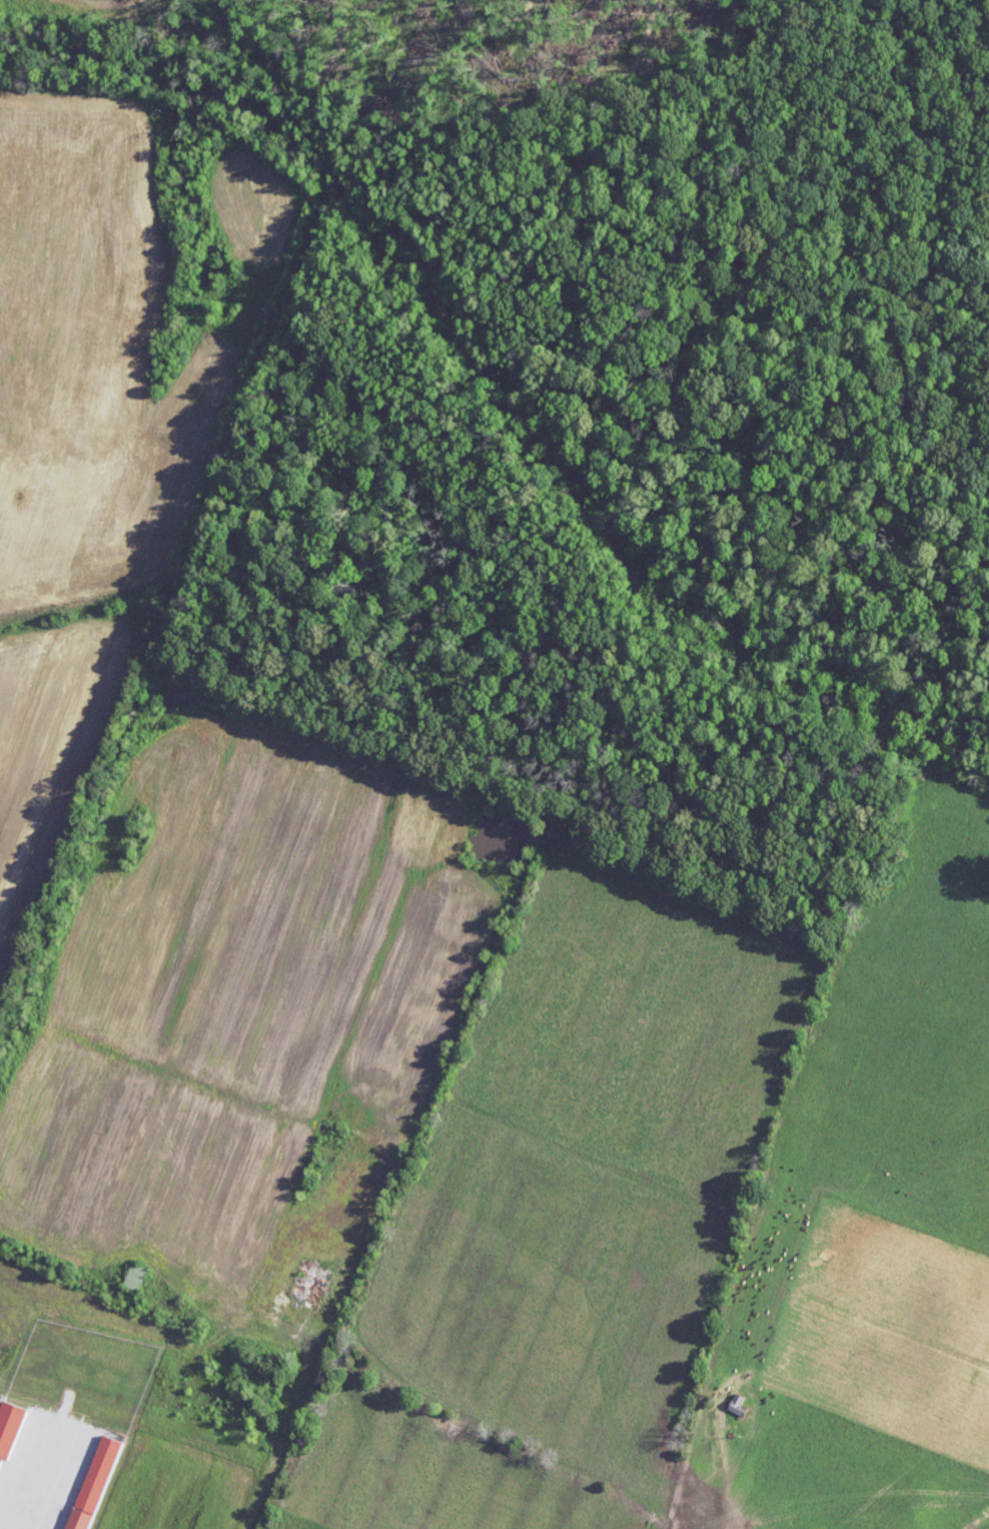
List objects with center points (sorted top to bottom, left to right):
building: (741, 1407)

